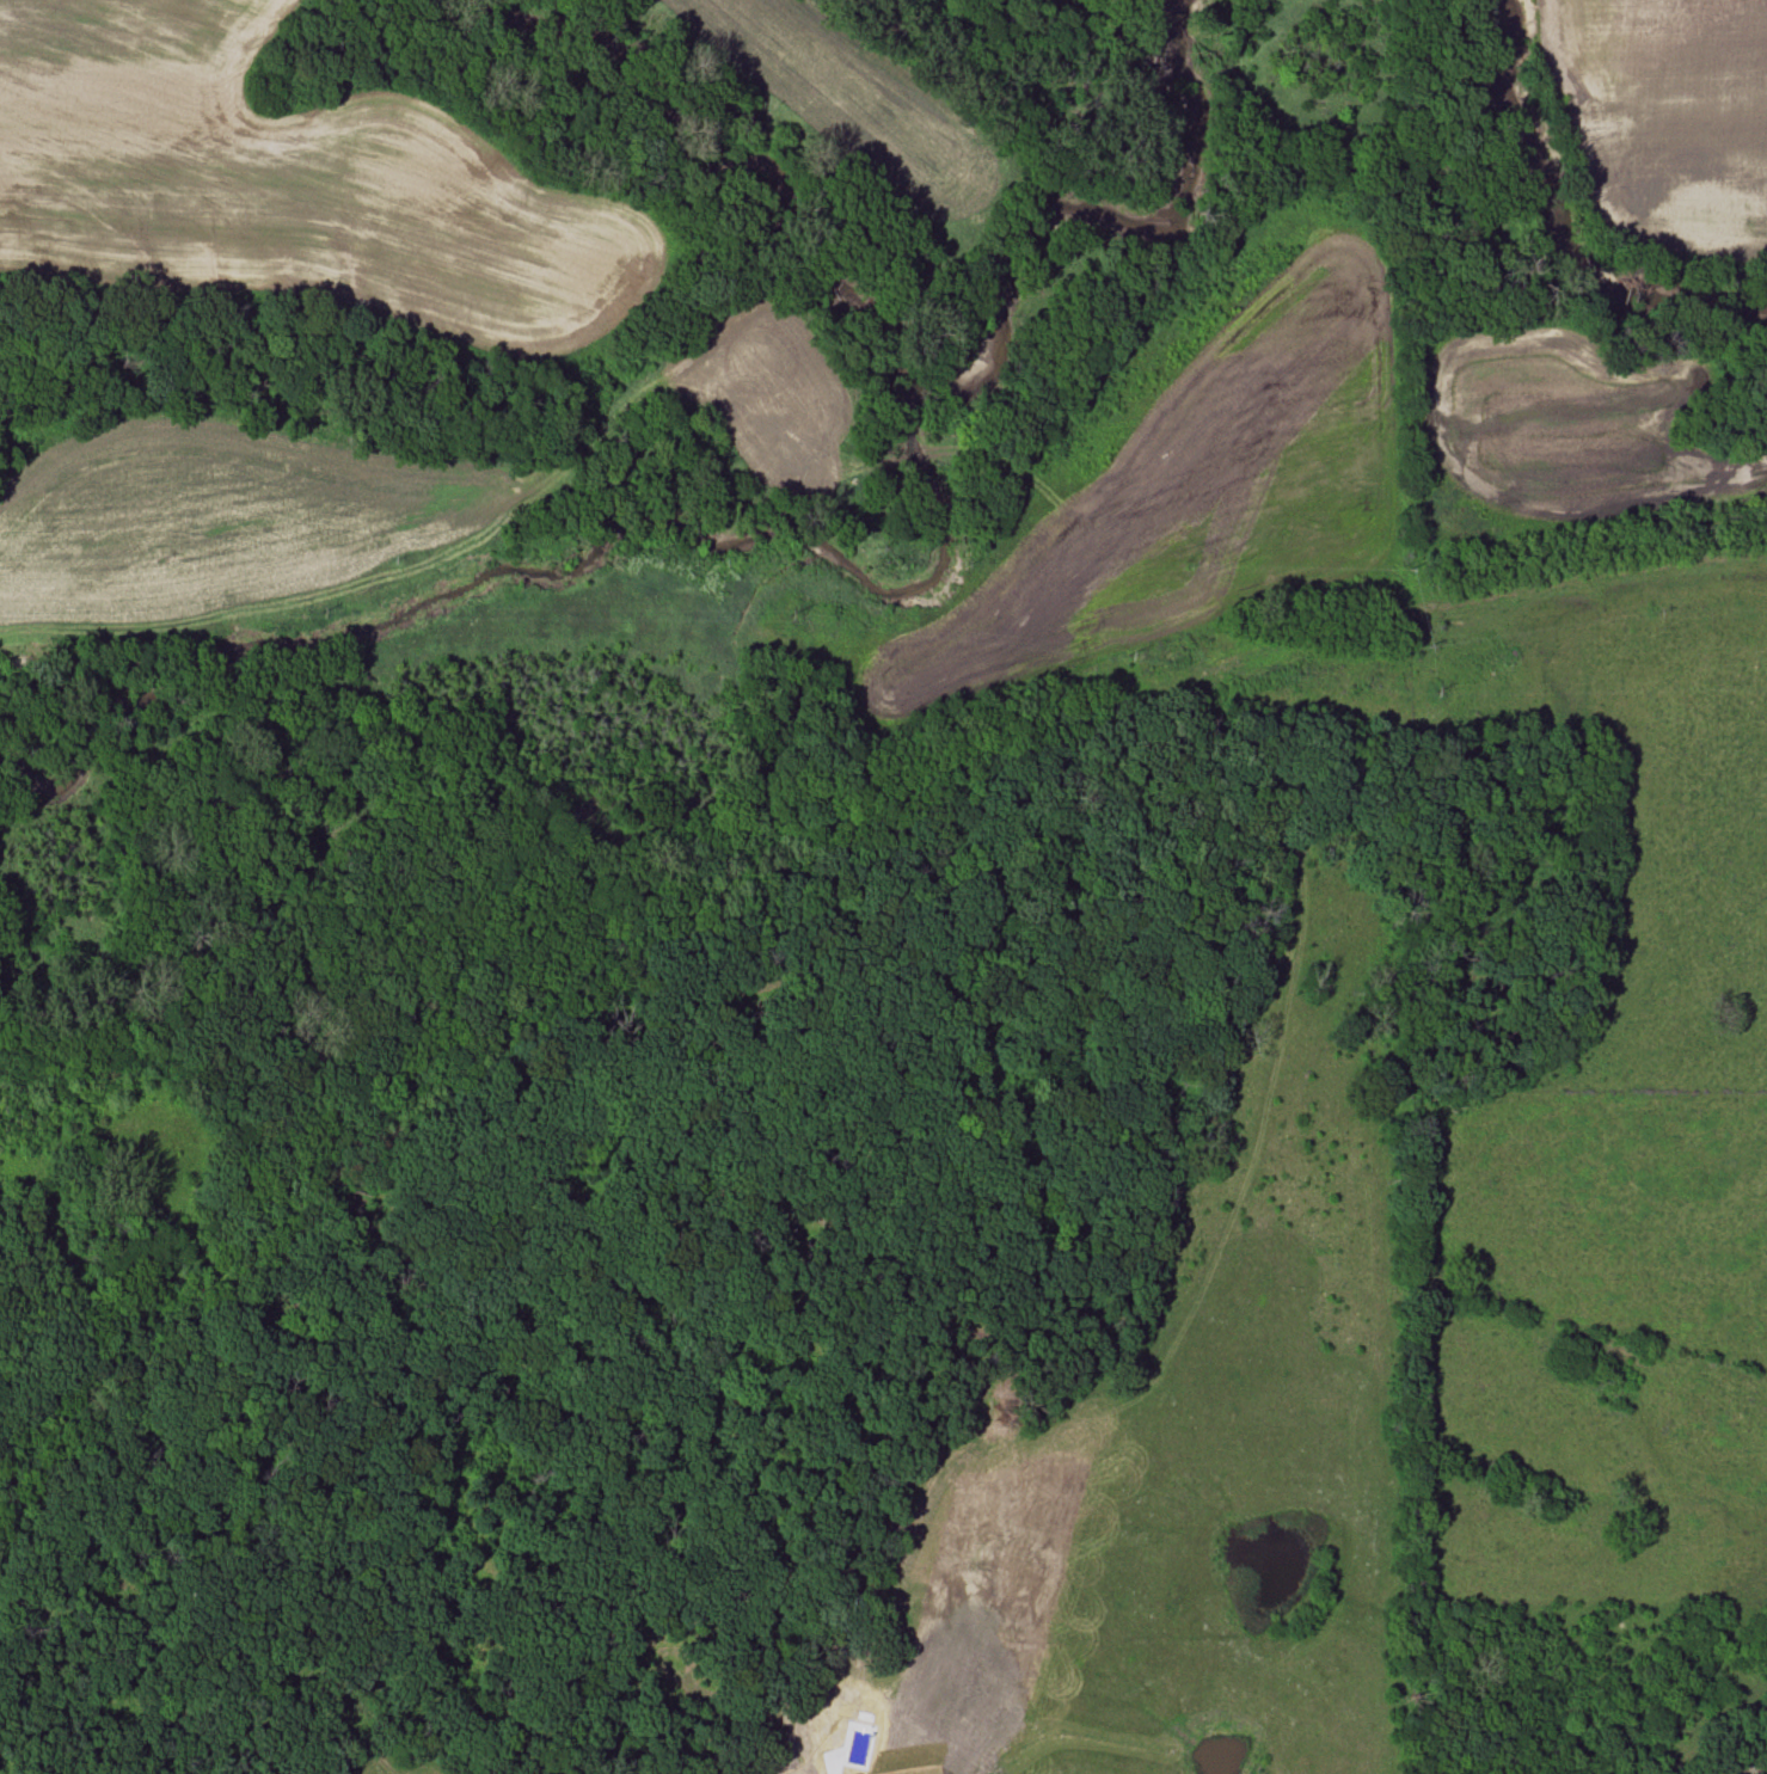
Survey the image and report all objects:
river: (1544, 238)
river: (931, 458)

